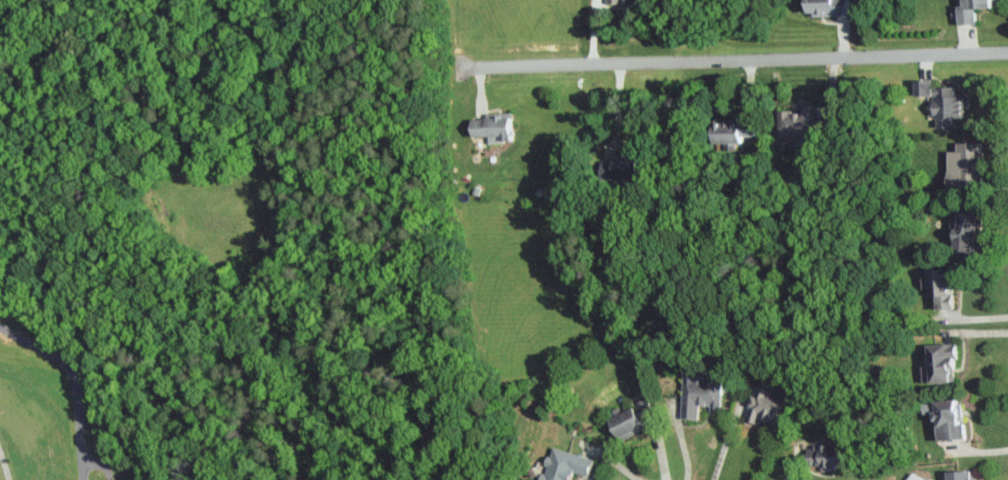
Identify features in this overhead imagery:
building: (613, 1)
building: (825, 8)
building: (968, 11)
road: (736, 62)
building: (920, 85)
building: (942, 105)
building: (798, 121)
building: (490, 126)
building: (731, 129)
building: (619, 169)
building: (962, 230)
building: (938, 285)
building: (937, 360)
road: (75, 381)
building: (697, 392)
building: (763, 405)
building: (944, 417)
building: (624, 422)
road: (726, 442)
road: (683, 445)
road: (988, 450)
building: (820, 456)
road: (612, 459)
road: (4, 462)
building: (563, 464)
road: (792, 467)
building: (956, 474)

